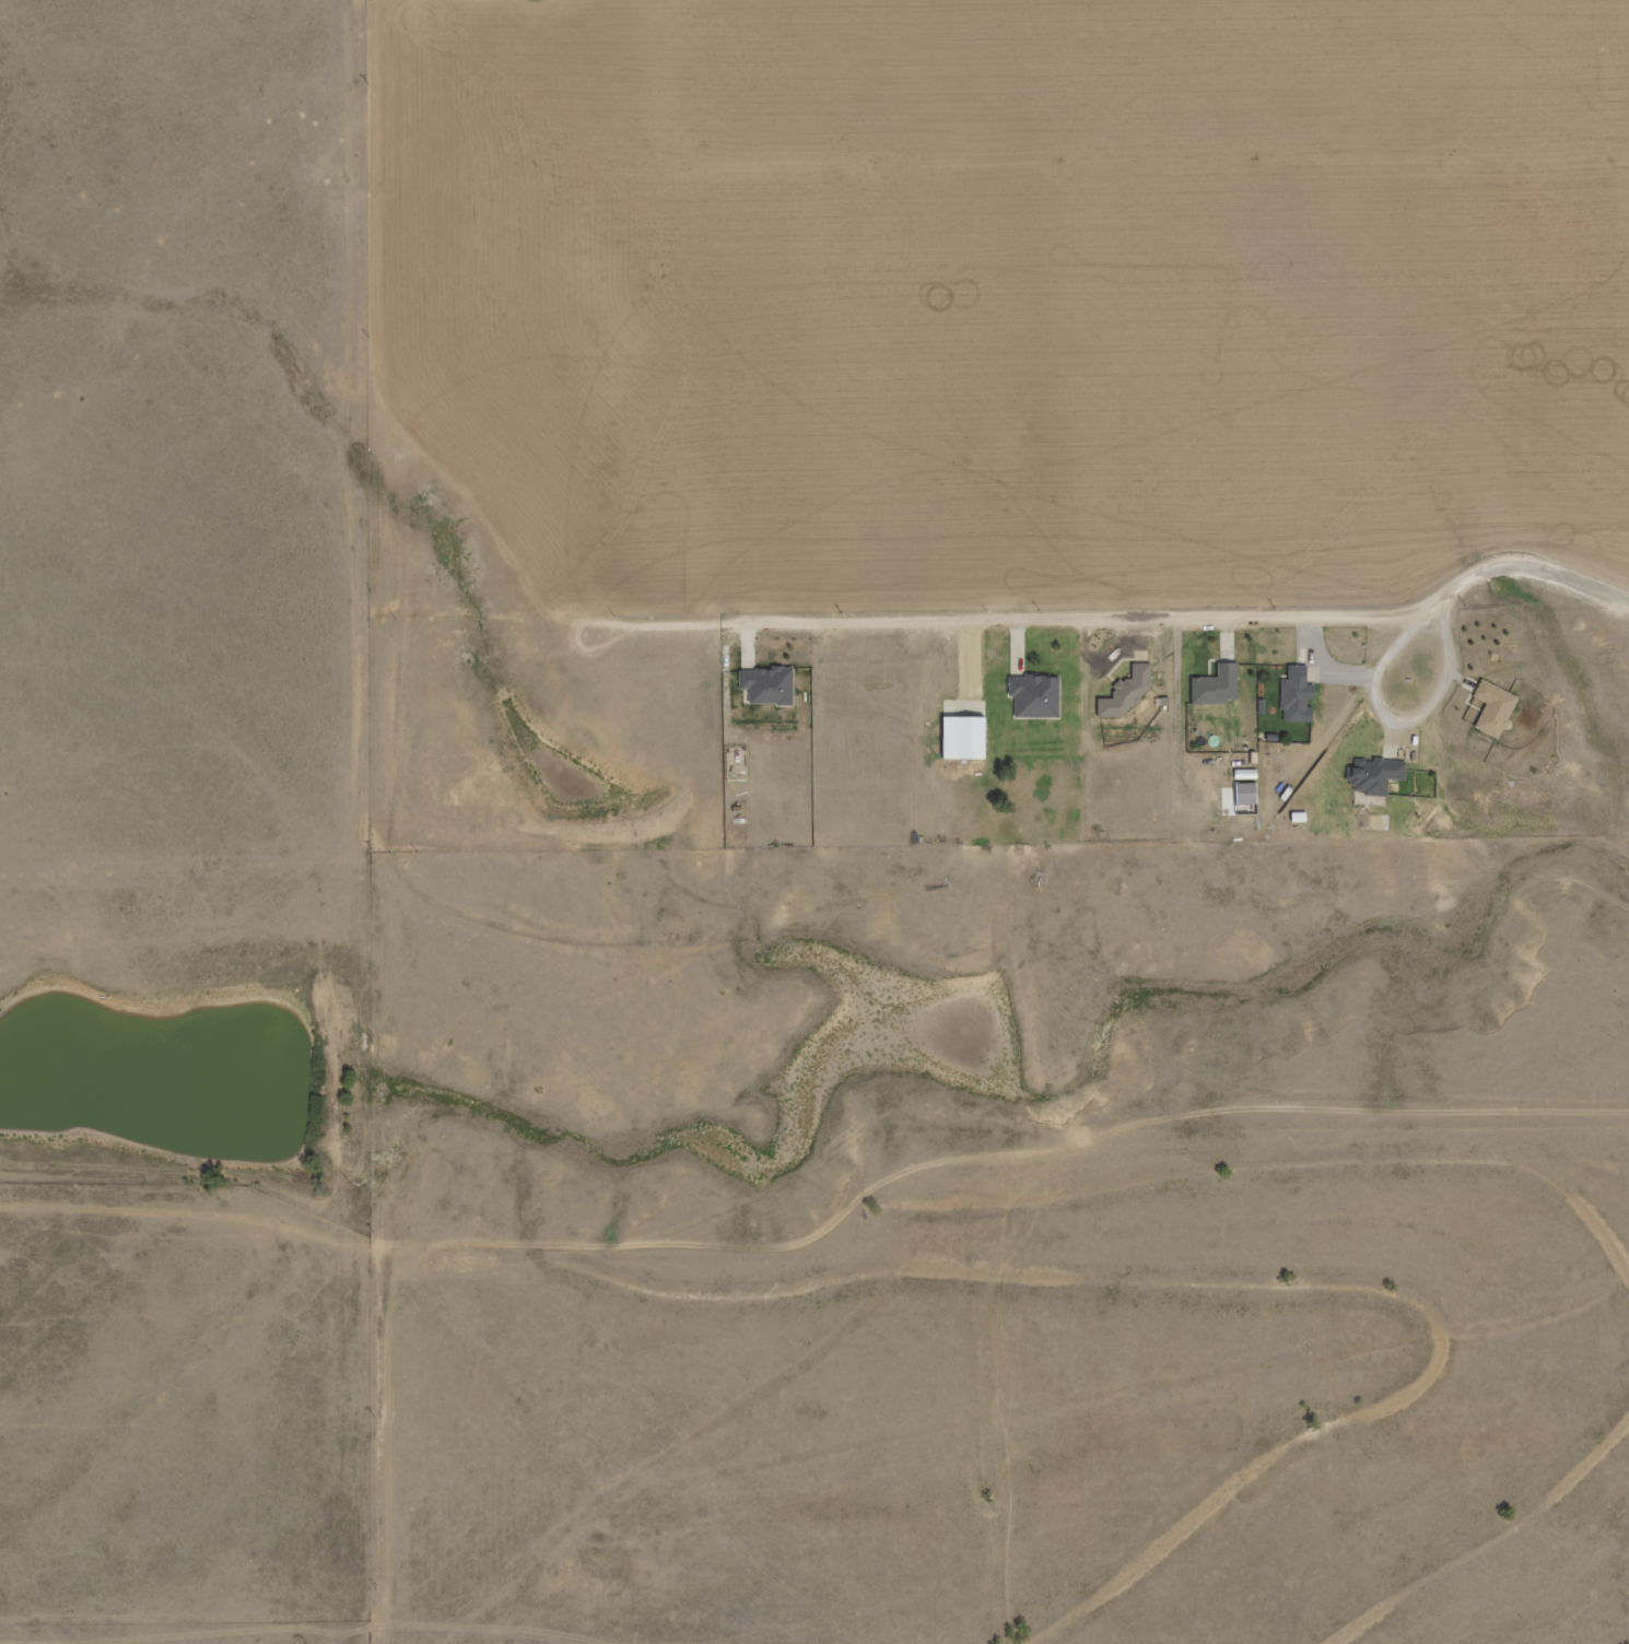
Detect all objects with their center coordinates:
road: (1199, 625)
building: (766, 685)
building: (1214, 685)
building: (1124, 693)
building: (1293, 695)
building: (1032, 696)
building: (1491, 708)
building: (959, 738)
building: (735, 764)
building: (1371, 776)
building: (1242, 794)

